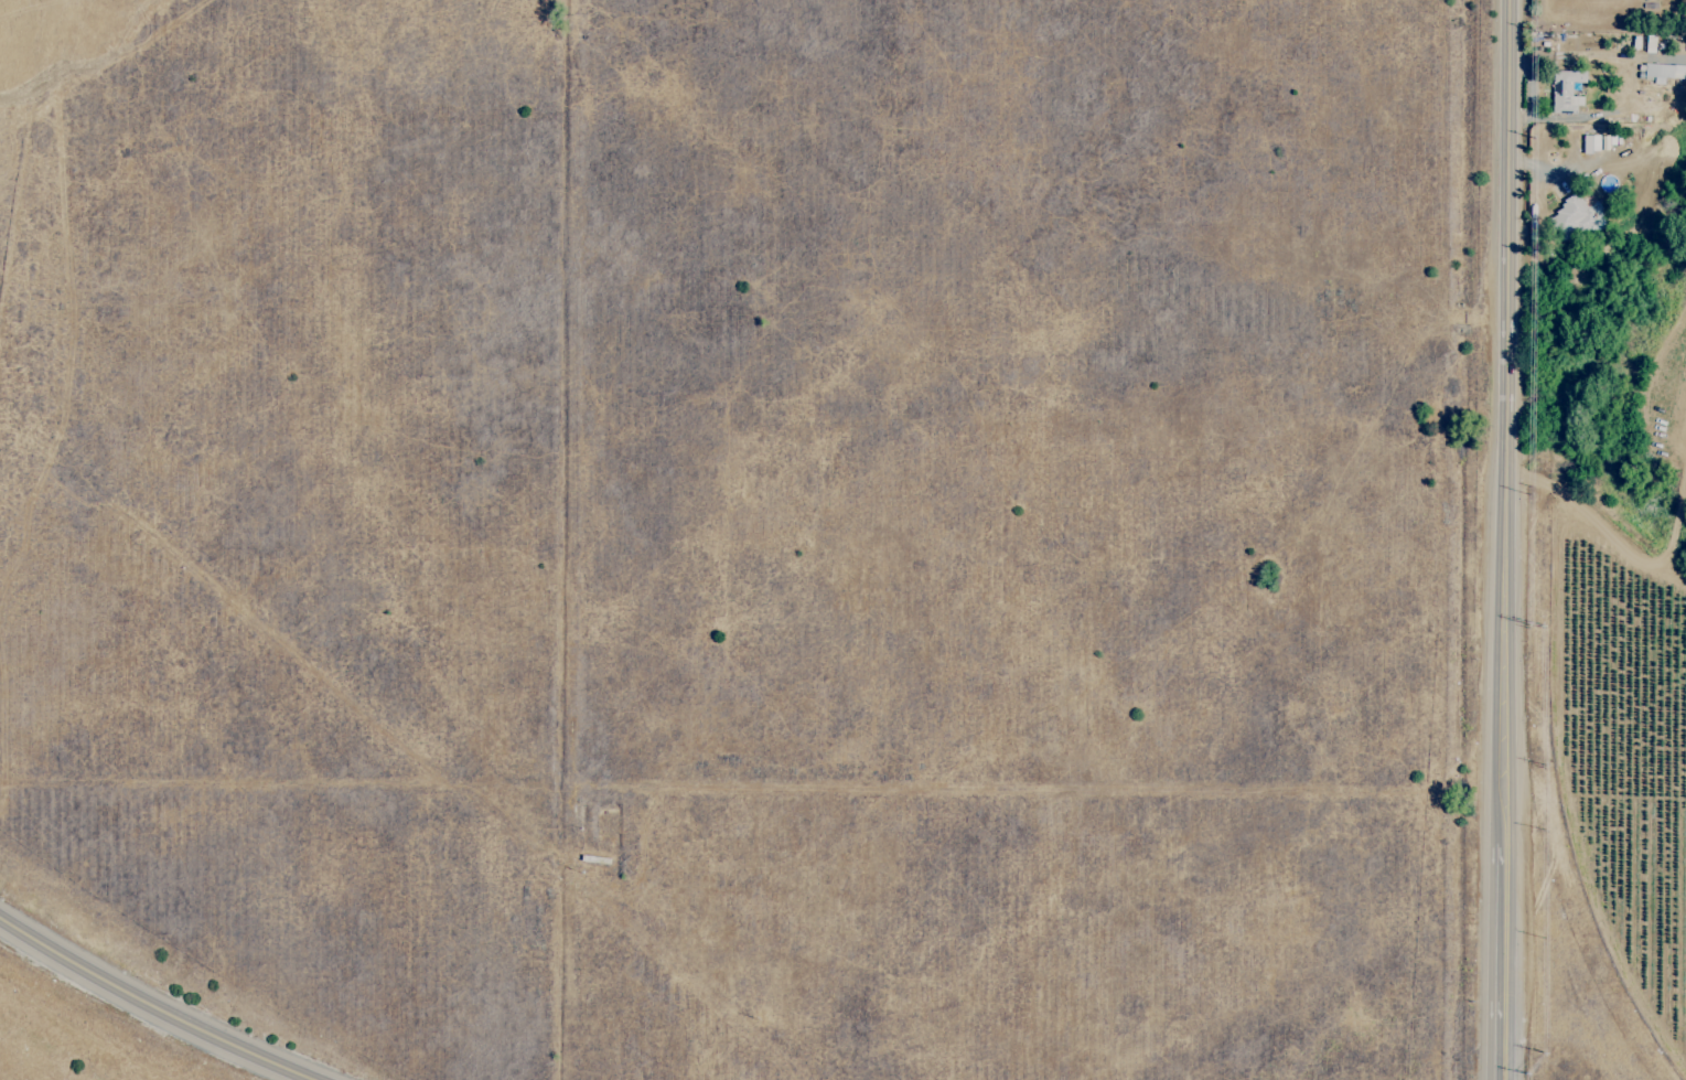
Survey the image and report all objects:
building: (1661, 73)
building: (1565, 92)
building: (1590, 143)
building: (1569, 217)
road: (1502, 400)
park: (754, 517)
crop: (1630, 568)
road: (1496, 941)
road: (152, 1006)

